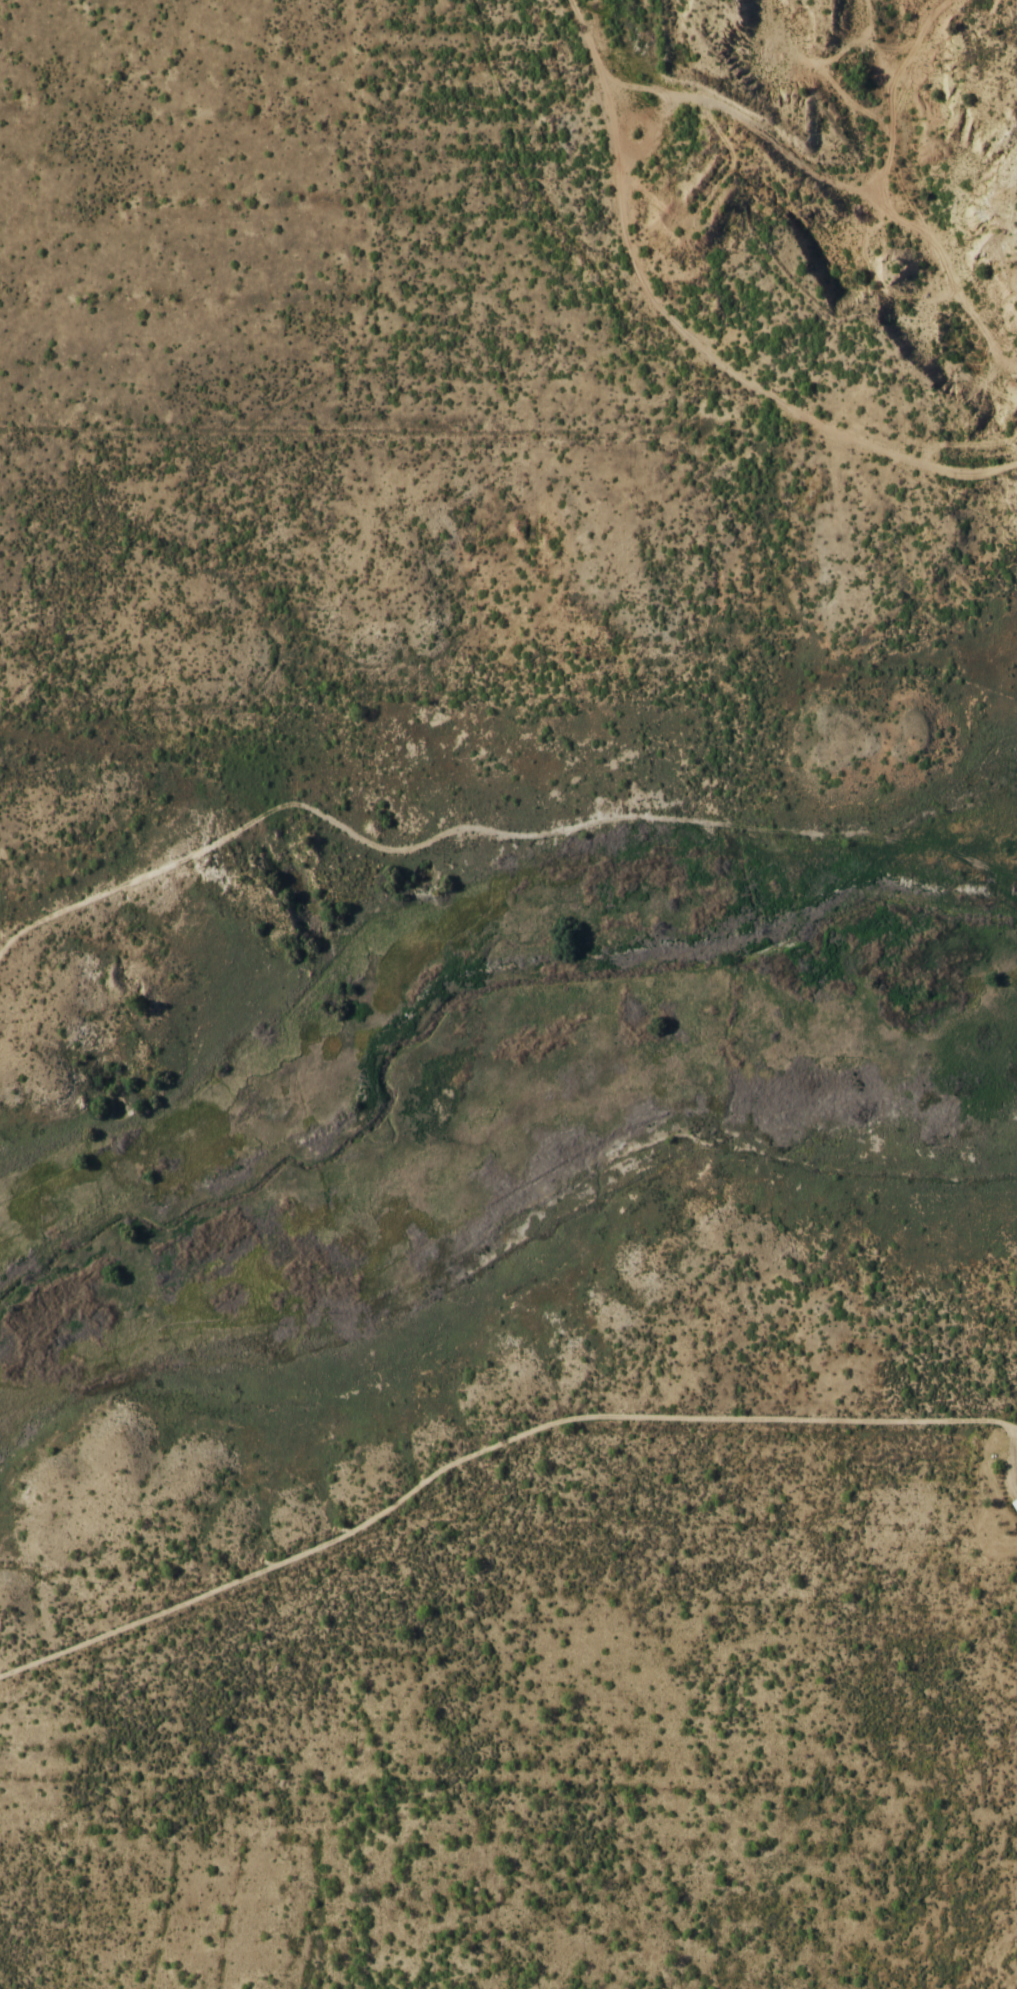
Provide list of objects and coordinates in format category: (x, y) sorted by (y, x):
road: (476, 1457)
building: (1015, 1504)

